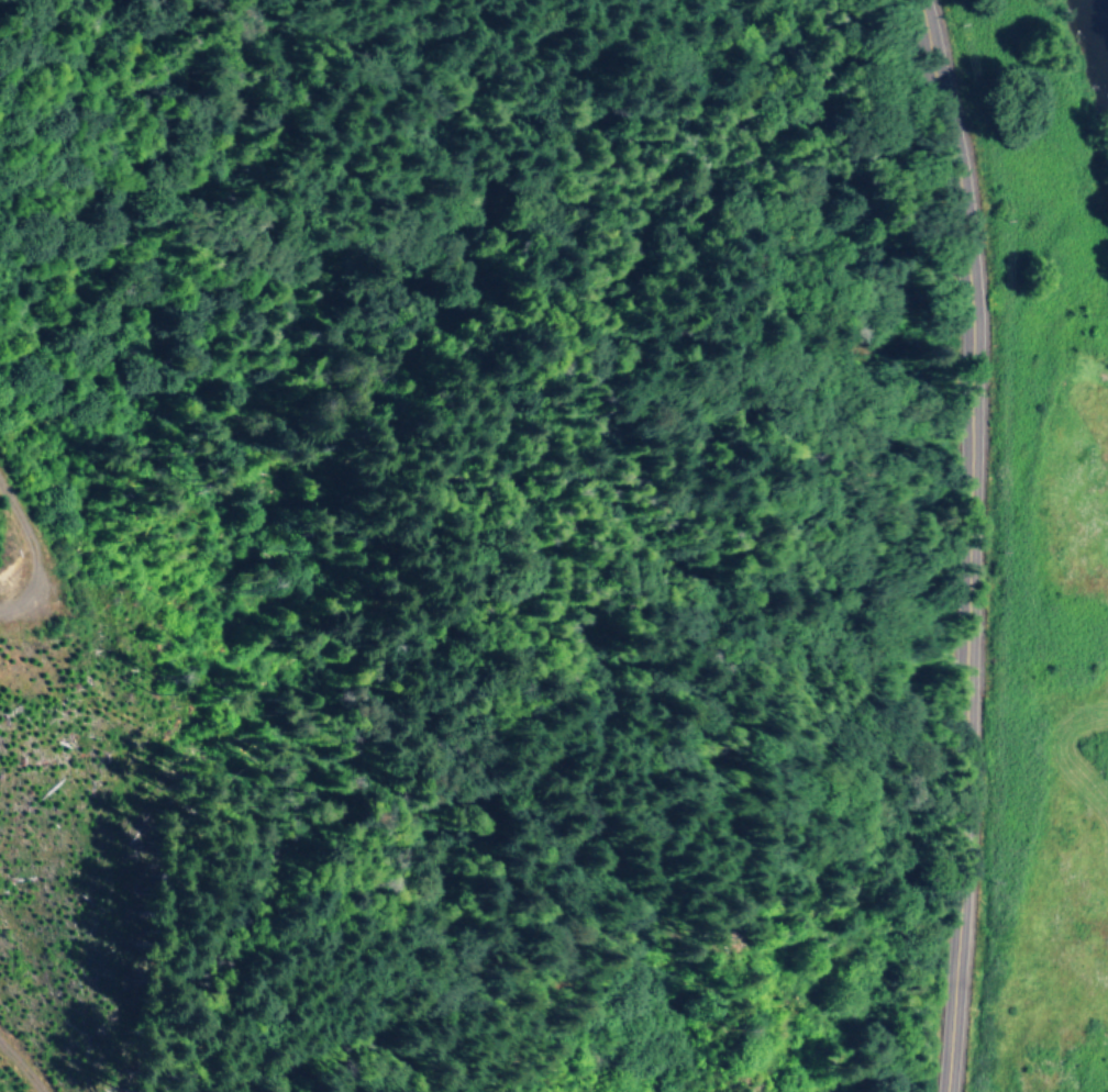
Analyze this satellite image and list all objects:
river: (1100, 18)
road: (973, 544)

